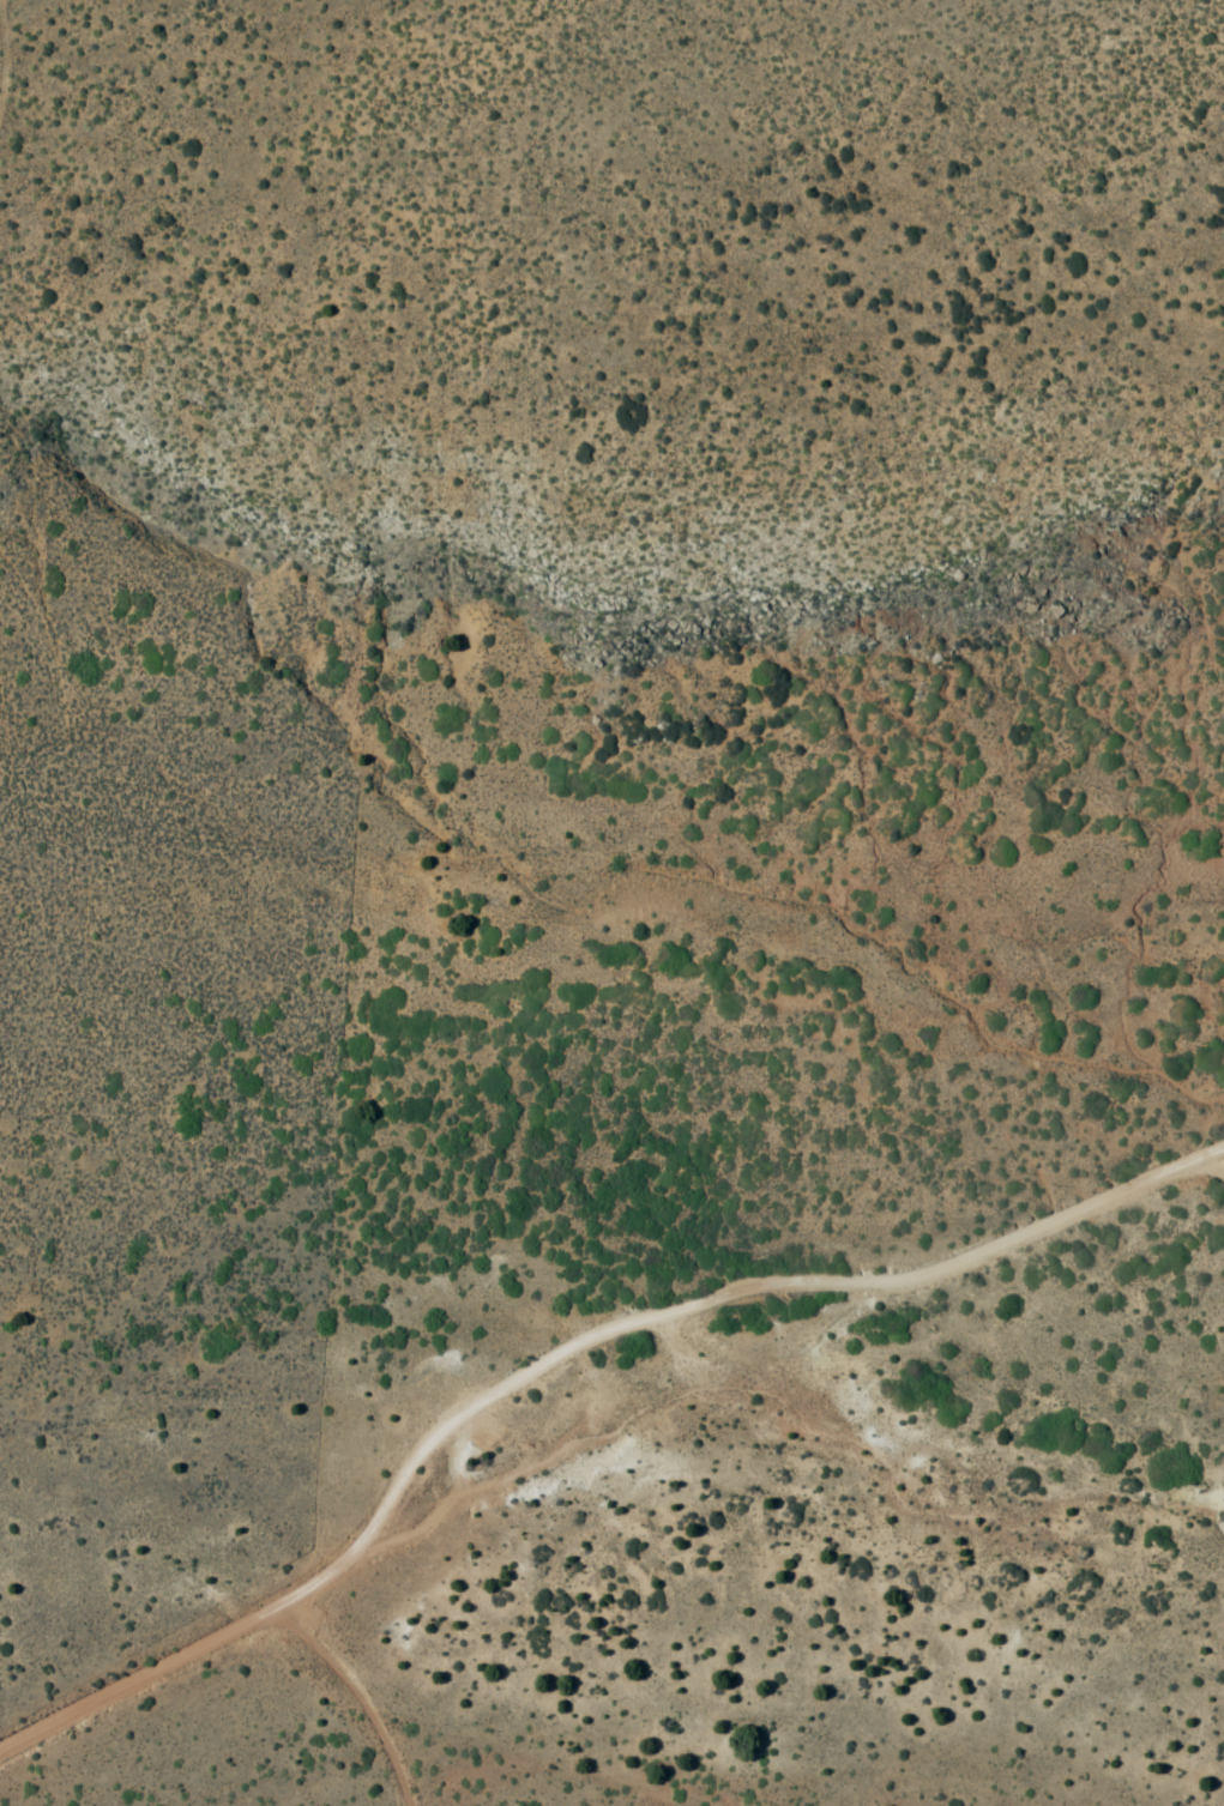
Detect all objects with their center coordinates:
road: (8, 46)
road: (562, 1354)

